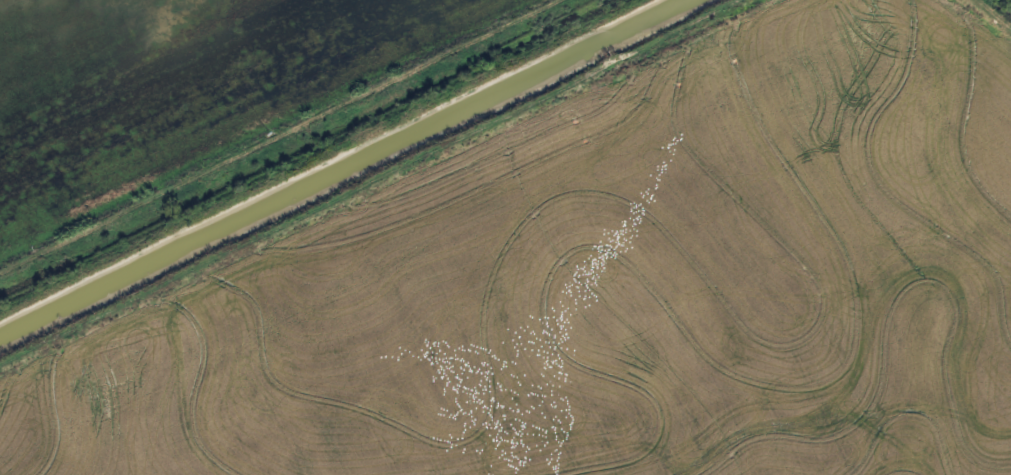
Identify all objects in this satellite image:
road: (993, 13)
road: (380, 186)

